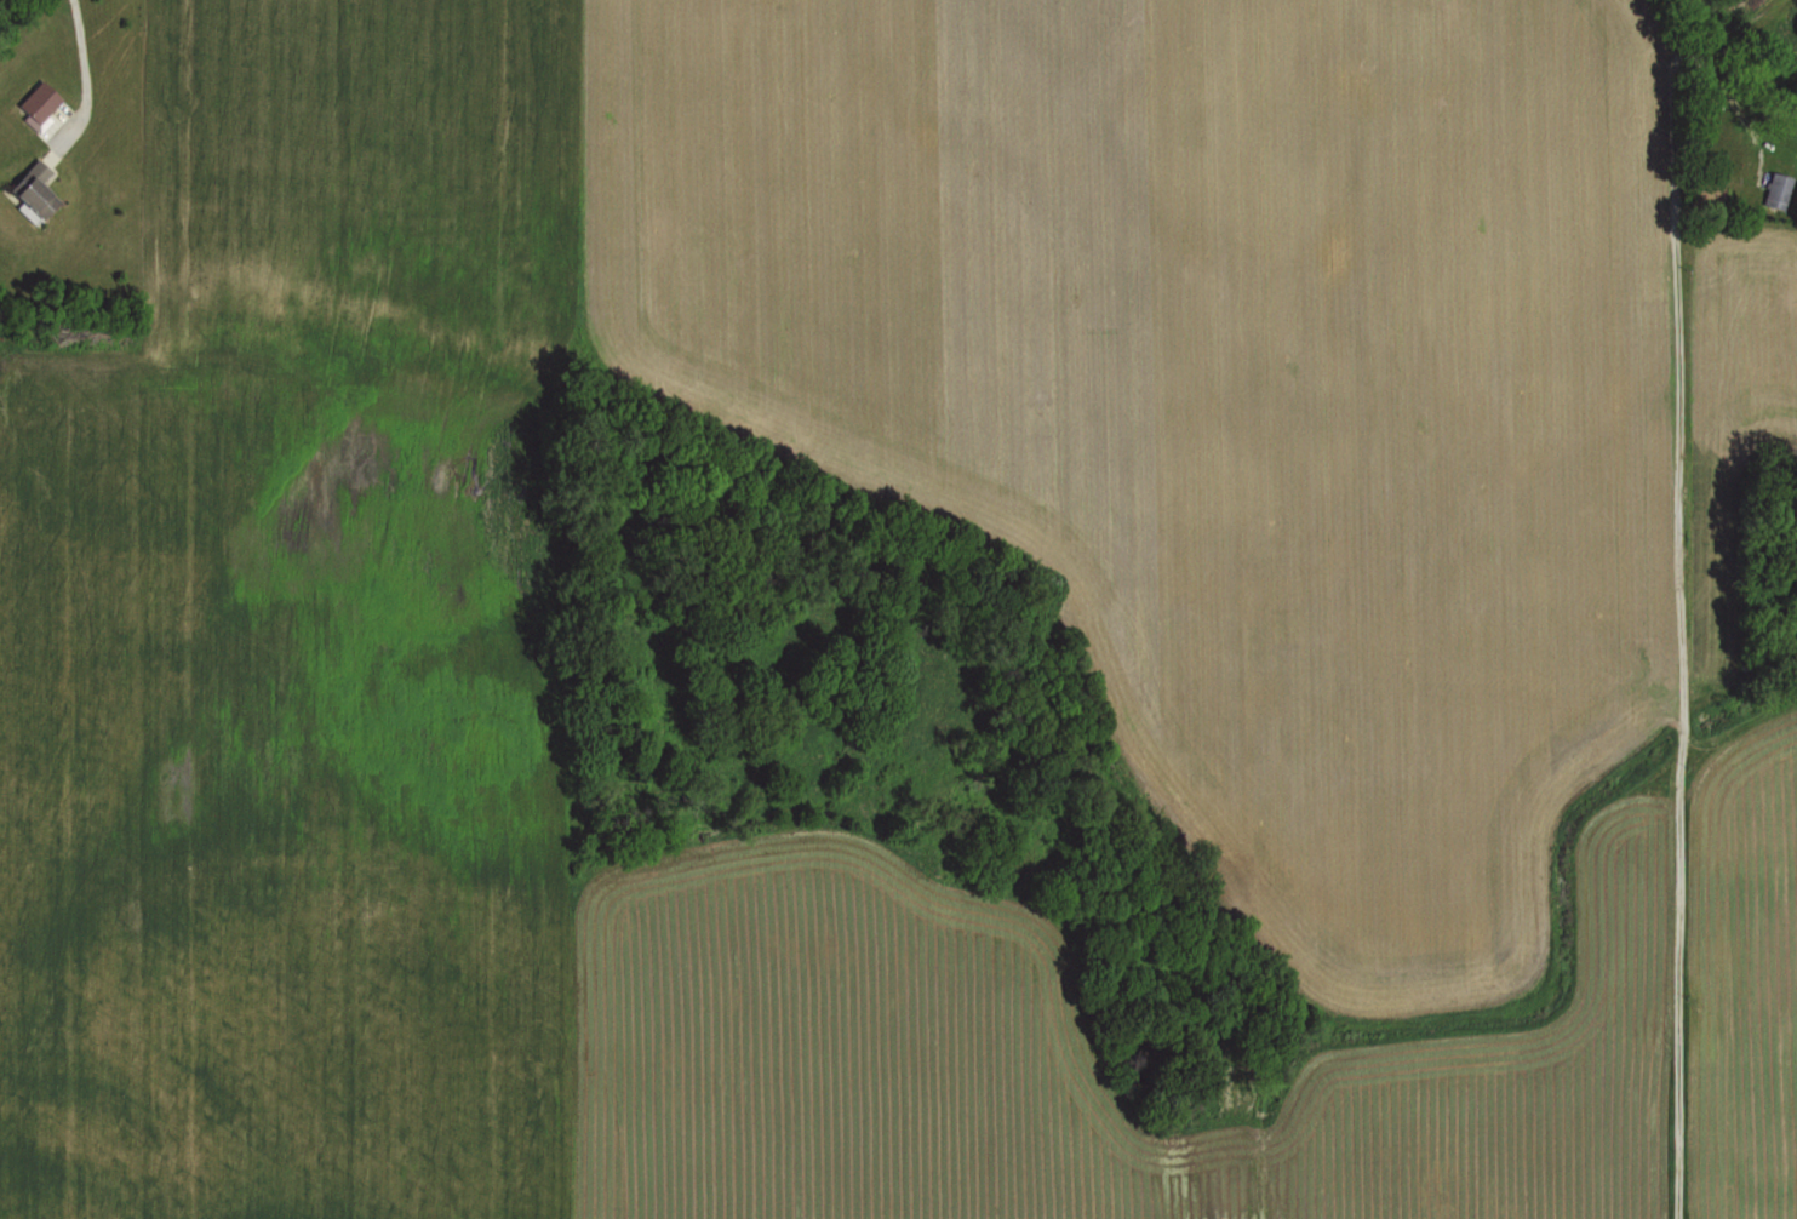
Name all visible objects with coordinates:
road: (1673, 56)
road: (82, 65)
building: (45, 108)
building: (39, 189)
building: (1780, 190)
road: (1677, 703)

